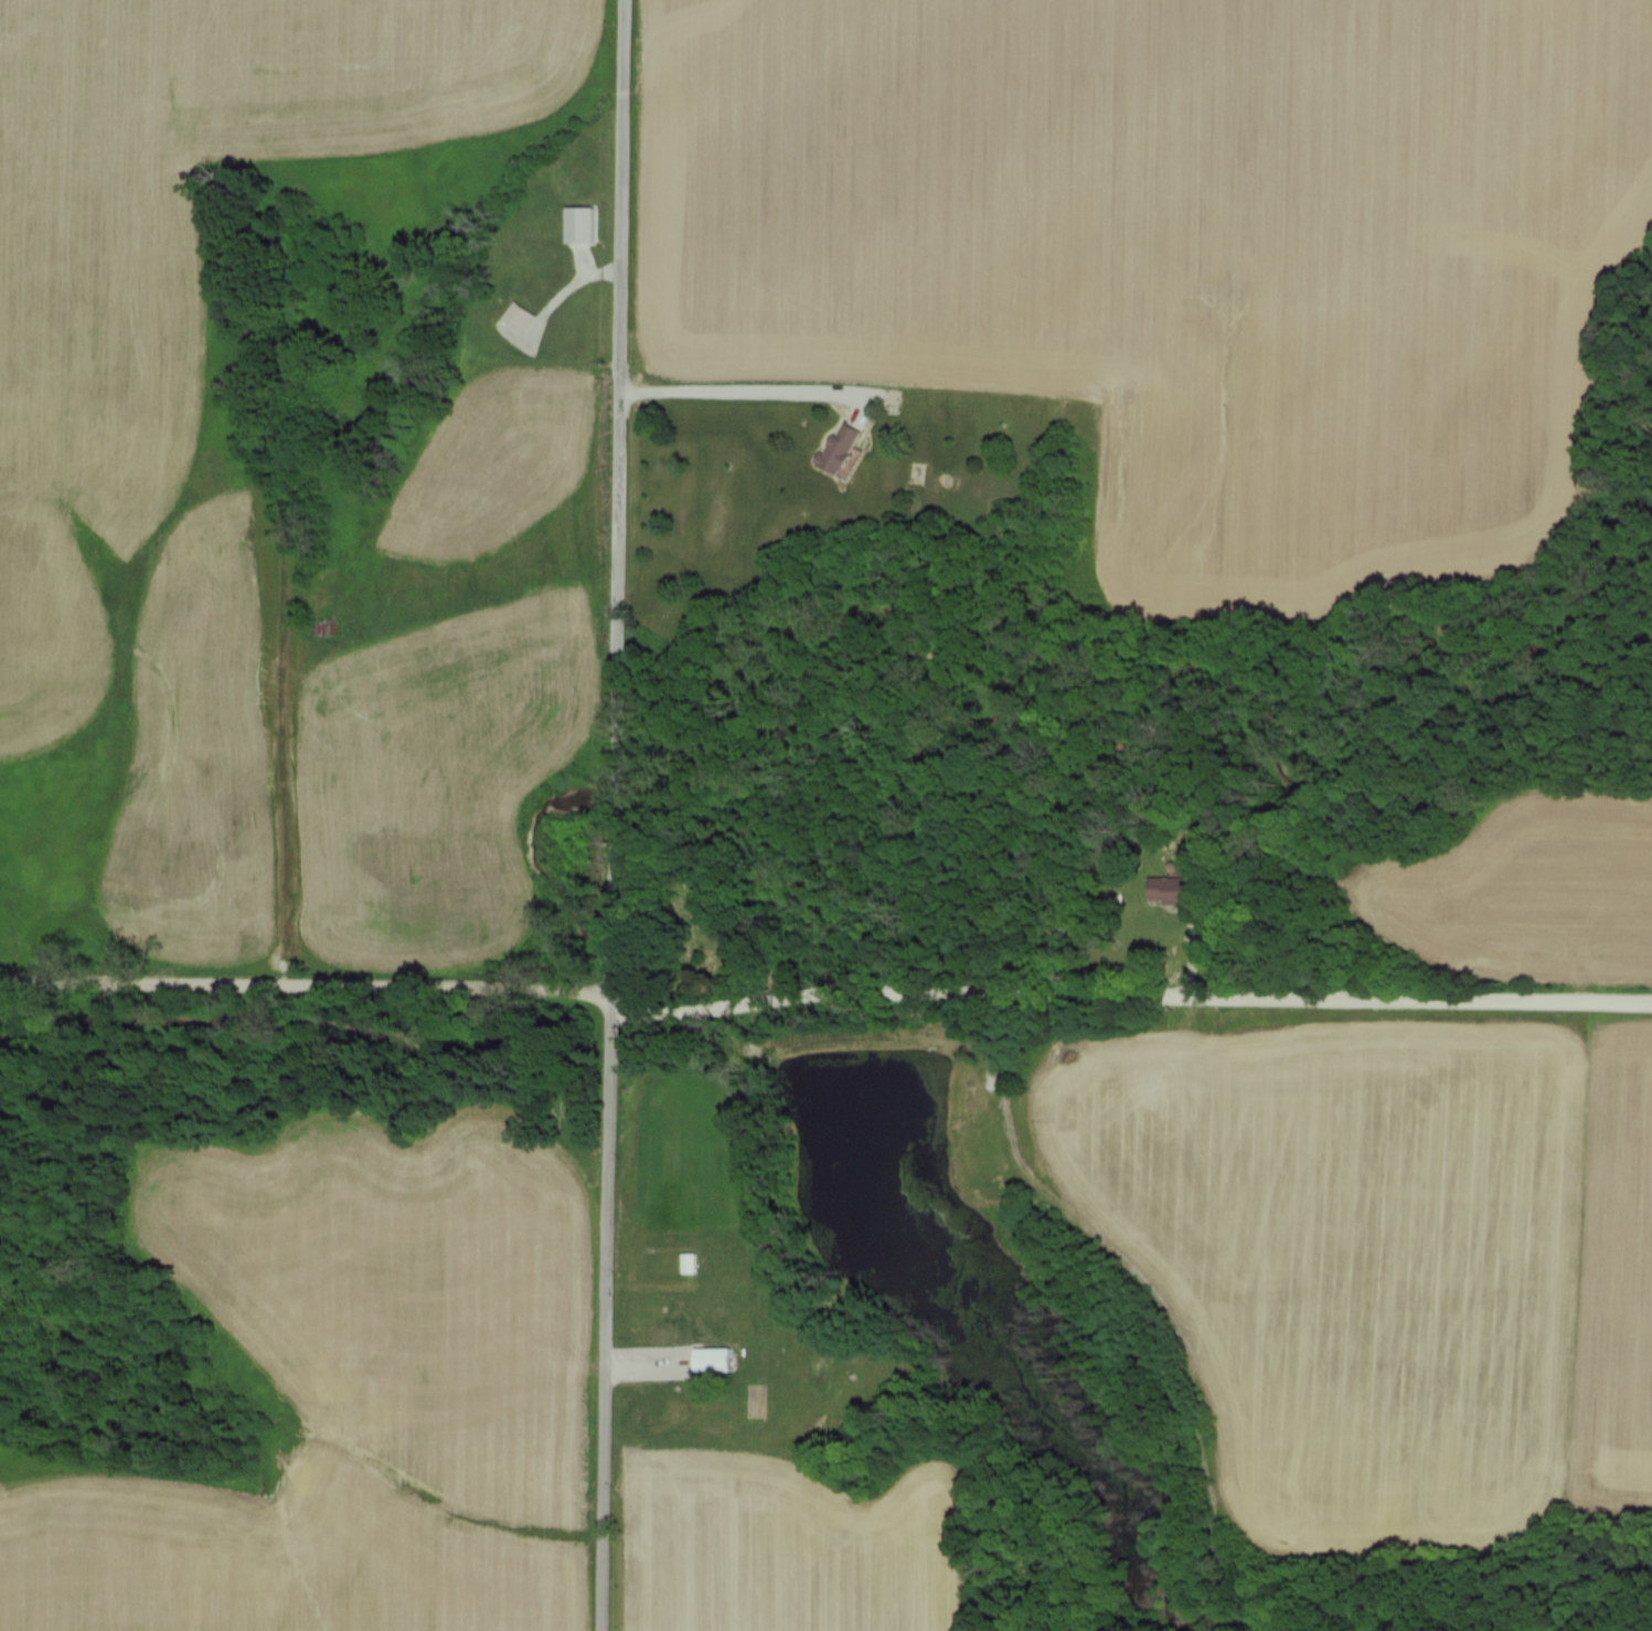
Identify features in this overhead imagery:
building: (521, 315)
road: (740, 388)
road: (619, 815)
building: (1164, 886)
road: (820, 999)
road: (1153, 1279)
building: (712, 1354)

